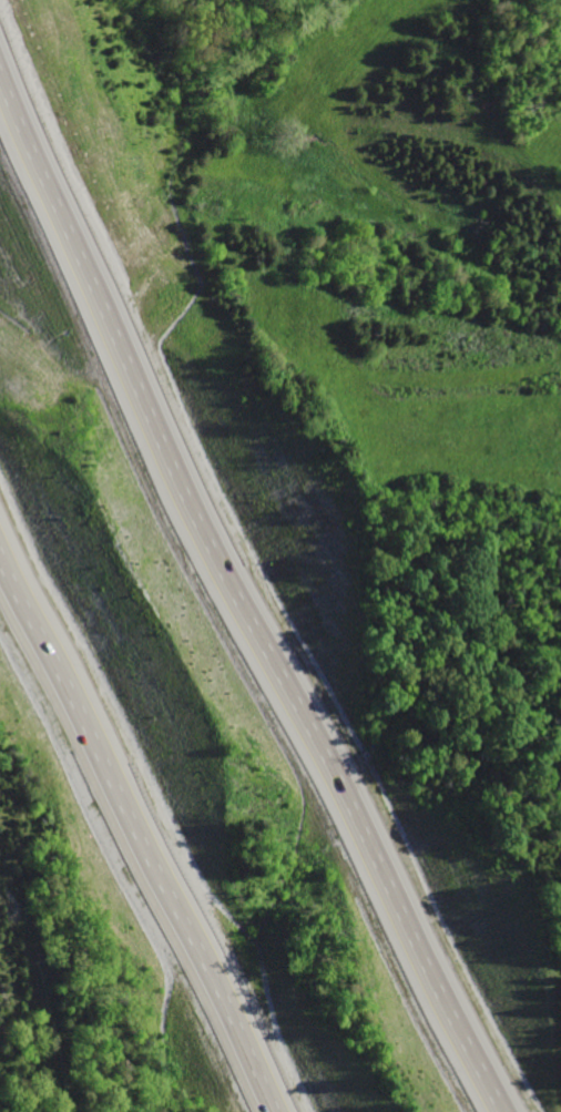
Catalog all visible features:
road: (254, 572)
road: (134, 834)

